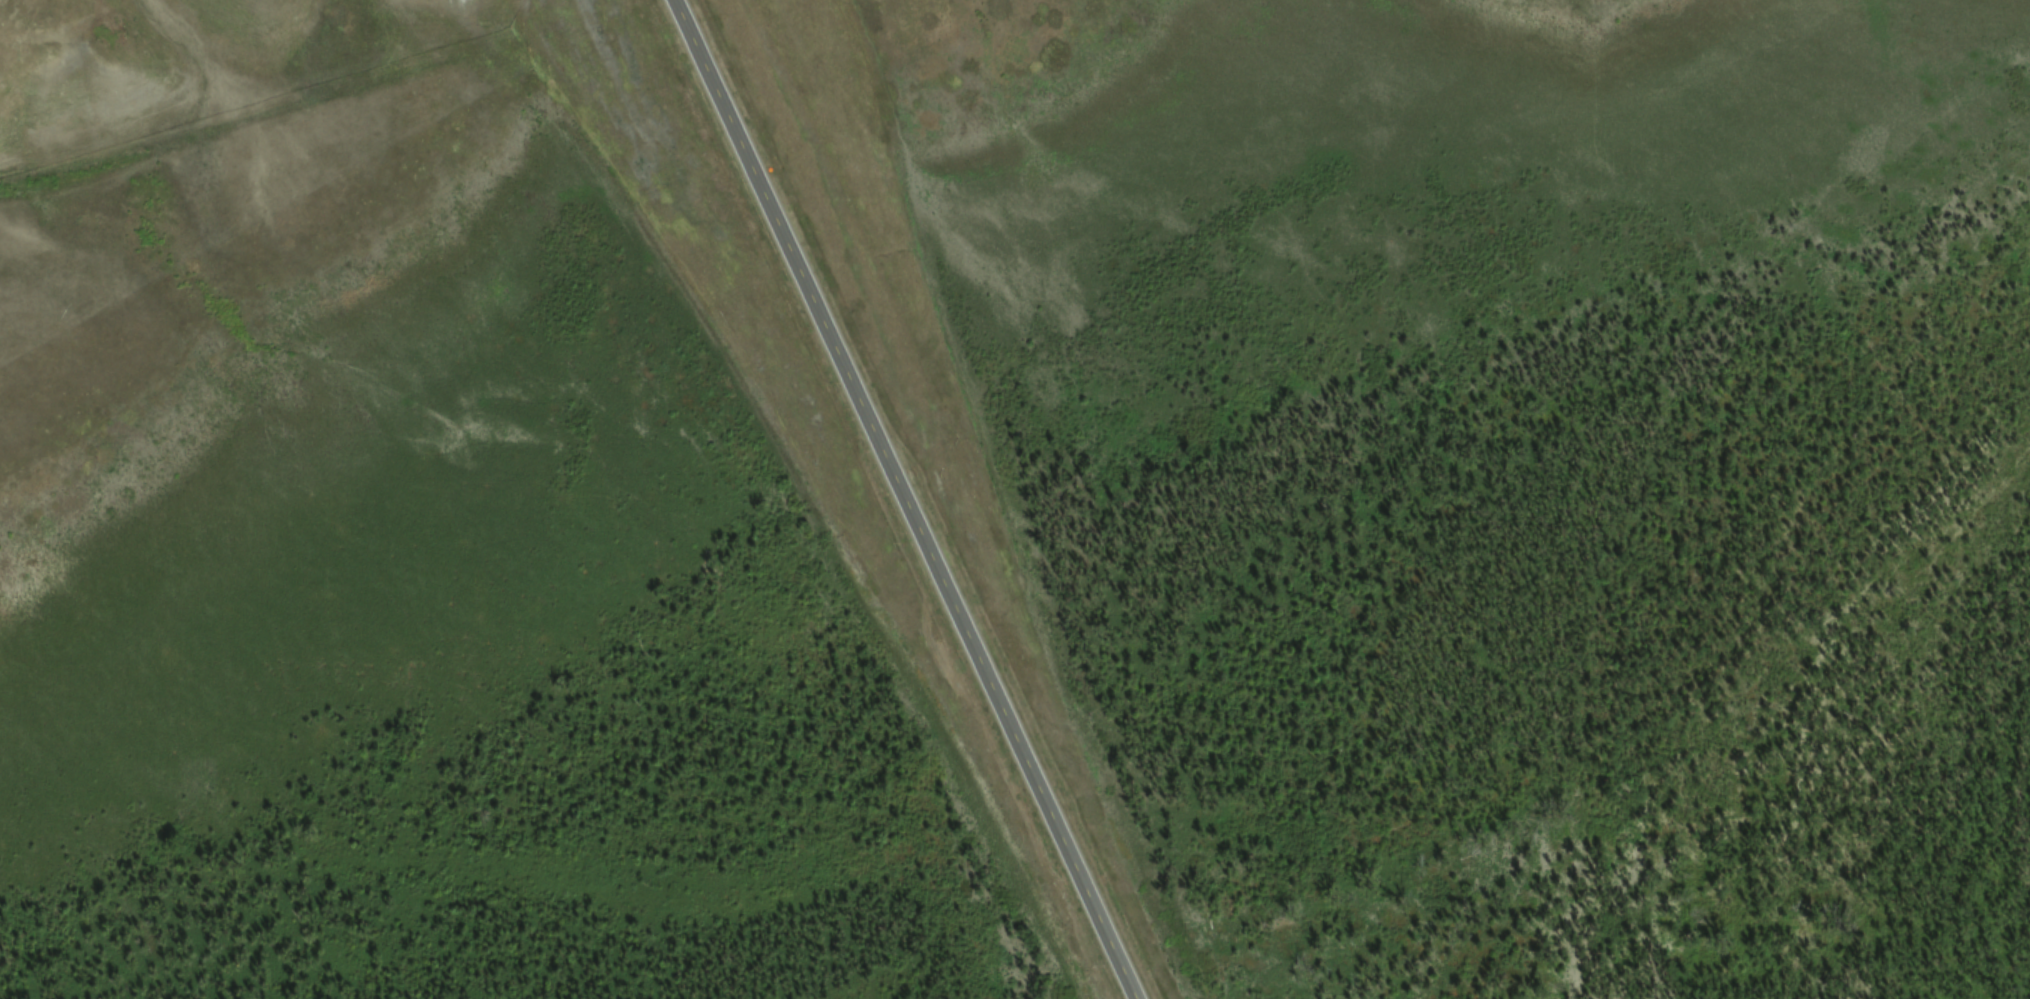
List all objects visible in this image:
road: (907, 499)

